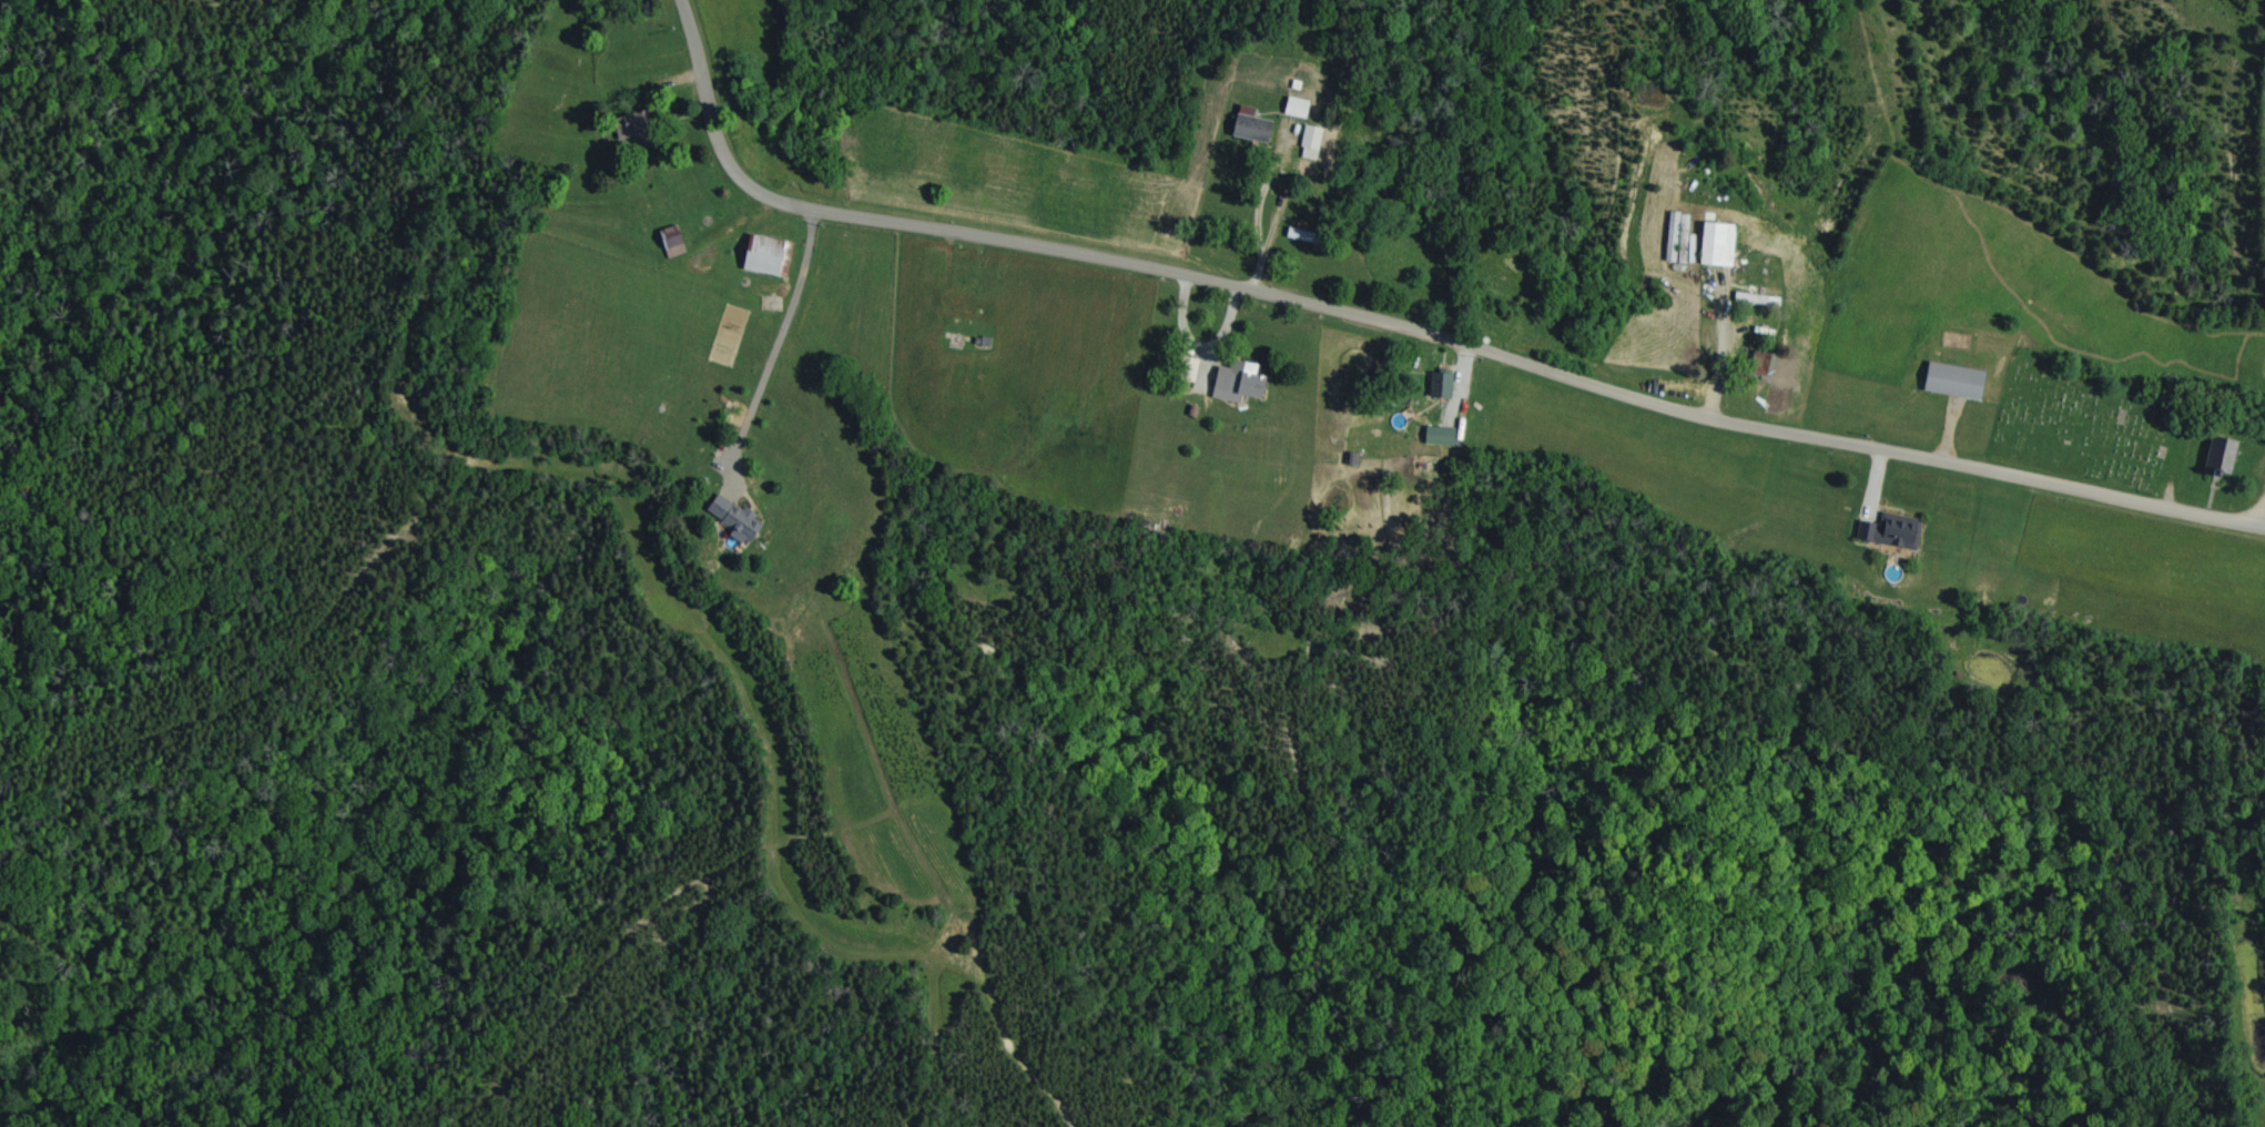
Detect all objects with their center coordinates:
building: (1298, 106)
building: (1253, 126)
building: (1311, 142)
road: (1255, 211)
building: (672, 241)
building: (1720, 244)
building: (768, 255)
road: (1253, 293)
road: (1399, 339)
road: (773, 359)
building: (1763, 362)
road: (1718, 367)
building: (1957, 380)
building: (1241, 382)
building: (1442, 385)
building: (1441, 435)
building: (2223, 453)
building: (734, 516)
road: (2254, 524)
building: (1892, 530)

